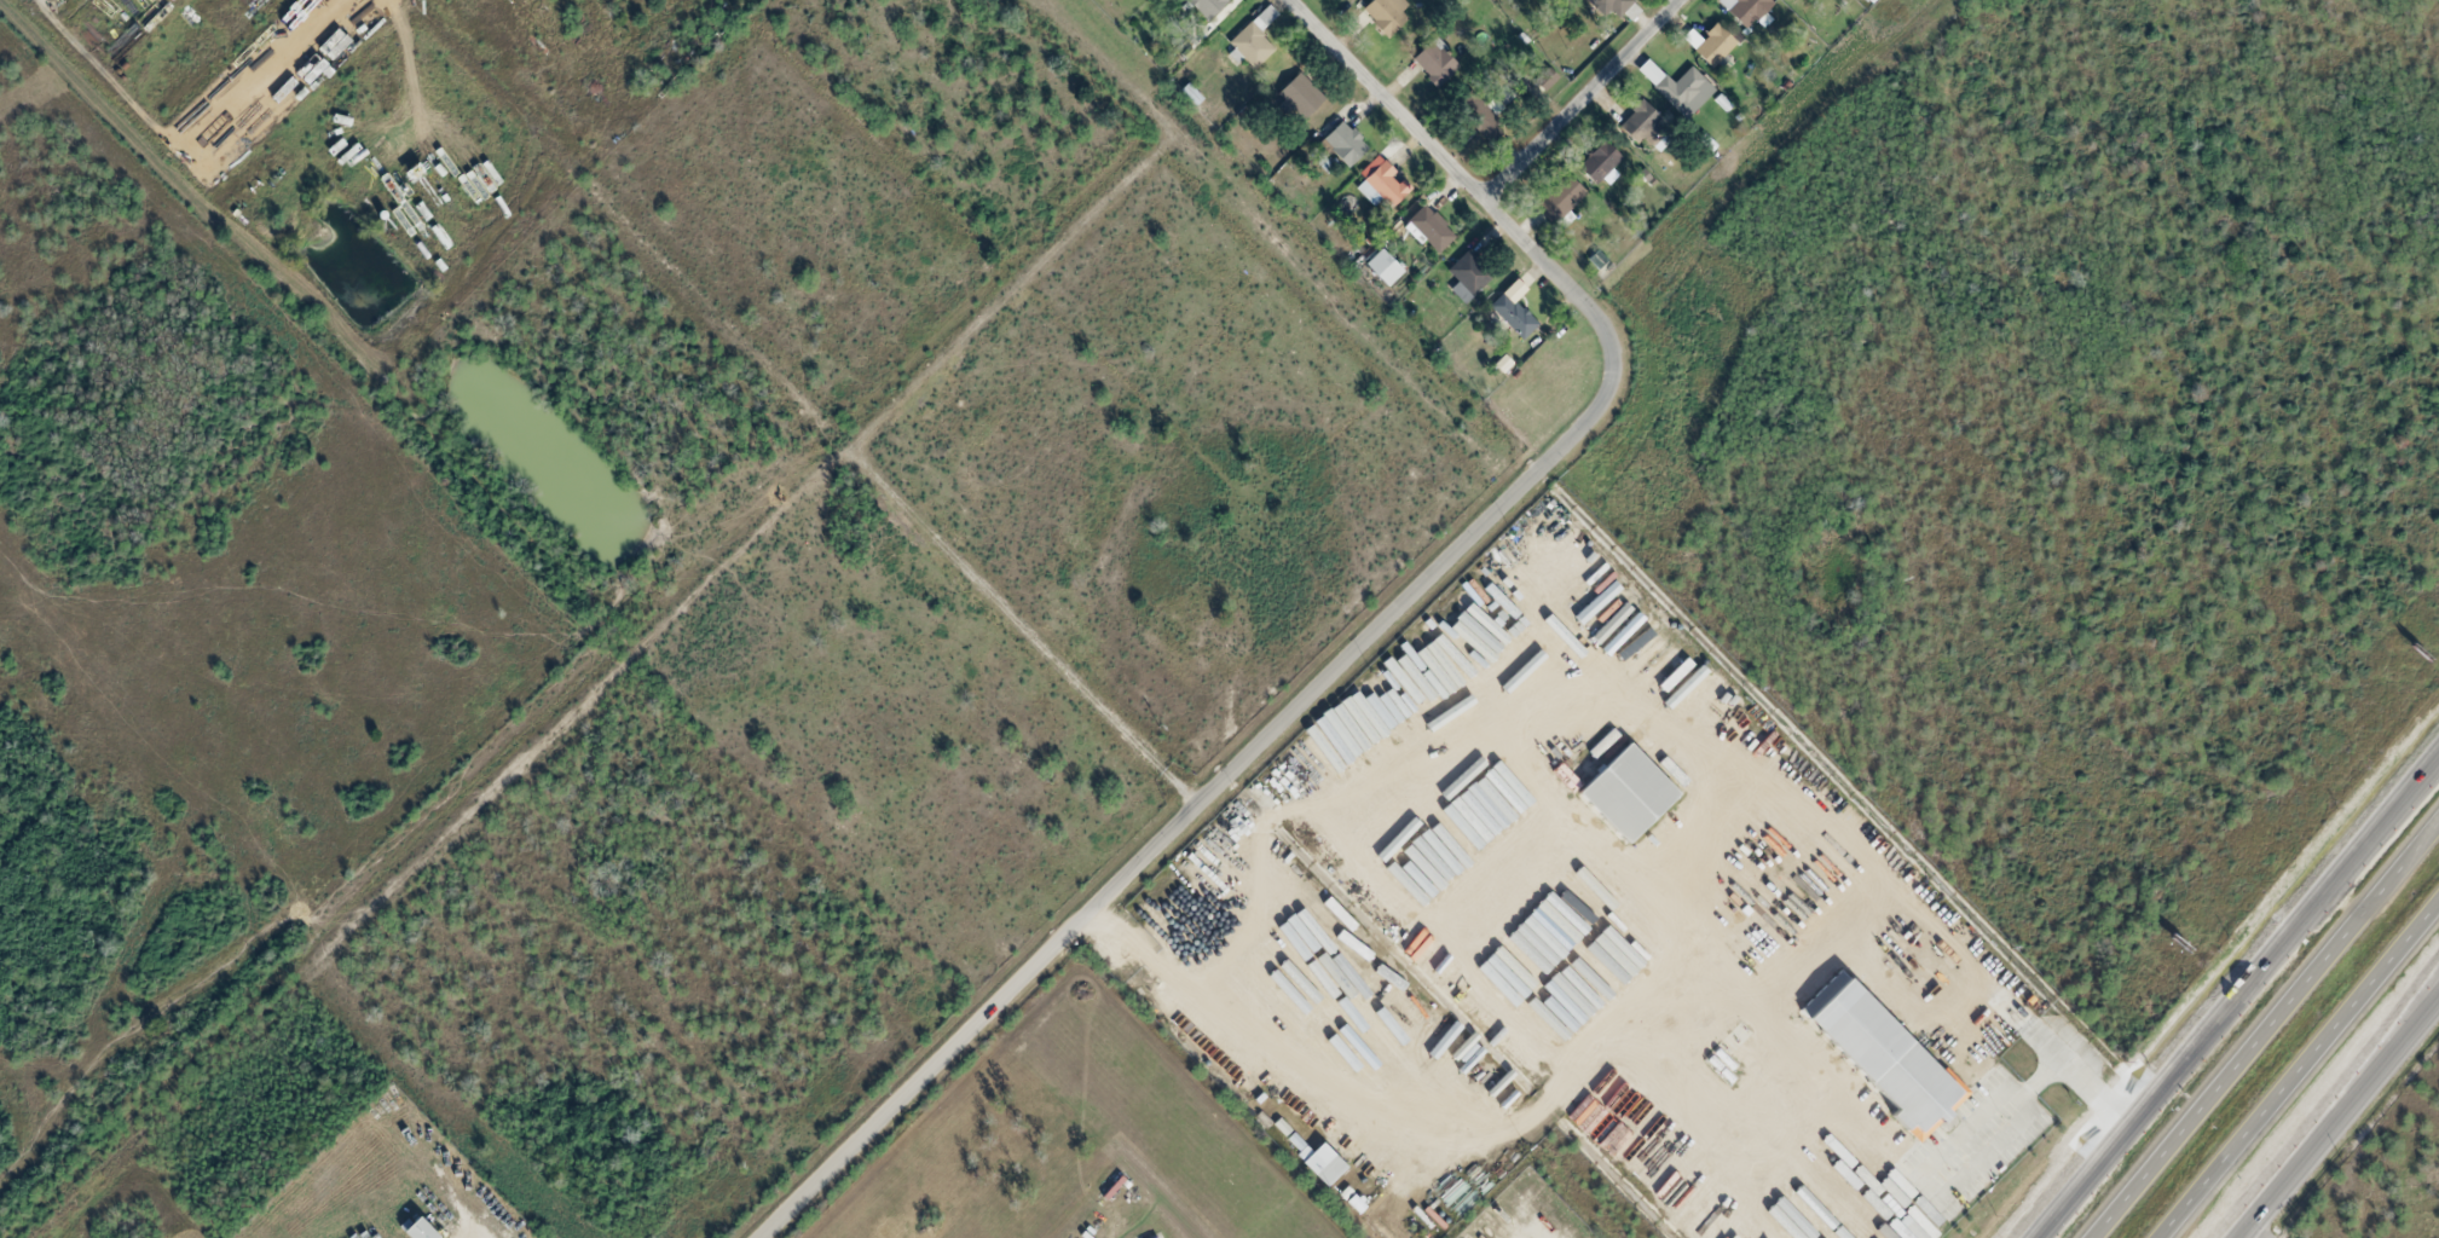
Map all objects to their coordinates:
building: (1868, 1)
building: (1206, 6)
building: (1609, 6)
building: (1750, 12)
building: (1386, 15)
building: (1253, 40)
building: (1710, 46)
building: (1433, 63)
building: (1649, 71)
building: (1545, 79)
building: (1684, 92)
building: (1191, 94)
building: (1300, 97)
road: (1583, 98)
building: (1645, 116)
building: (1487, 129)
road: (1429, 139)
building: (1345, 144)
building: (1602, 164)
building: (1382, 184)
building: (1561, 201)
building: (1429, 230)
building: (1597, 260)
building: (1383, 267)
building: (1468, 277)
building: (1514, 309)
building: (1502, 364)
road: (1235, 770)
building: (1625, 792)
road: (2237, 1000)
road: (2266, 1031)
road: (2393, 1052)
building: (1883, 1057)
road: (2300, 1074)
road: (2341, 1122)
building: (1320, 1163)
road: (2291, 1176)
building: (416, 1230)
building: (1382, 1230)

